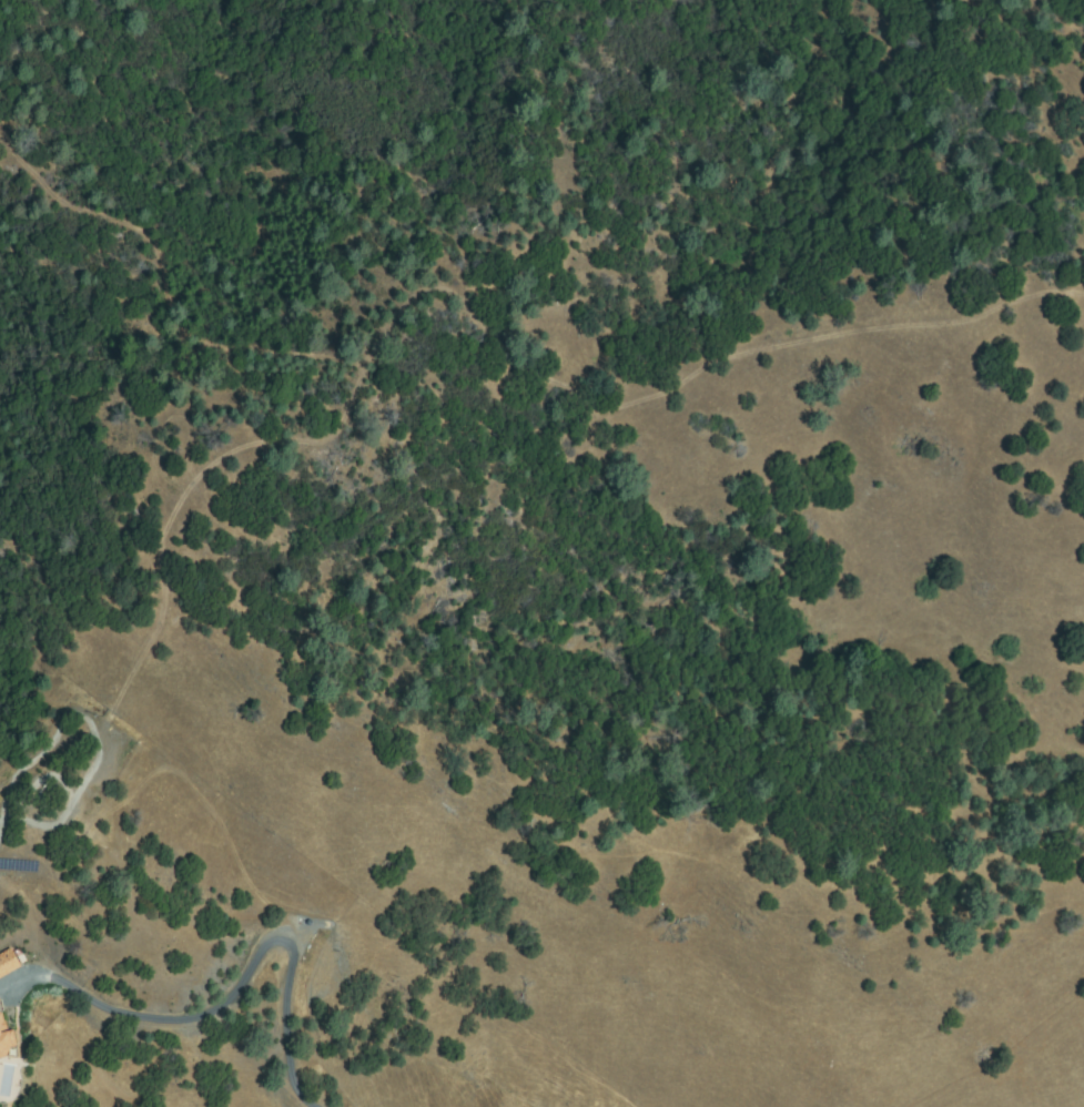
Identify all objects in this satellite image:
building: (7, 963)
road: (230, 982)
building: (7, 1038)

